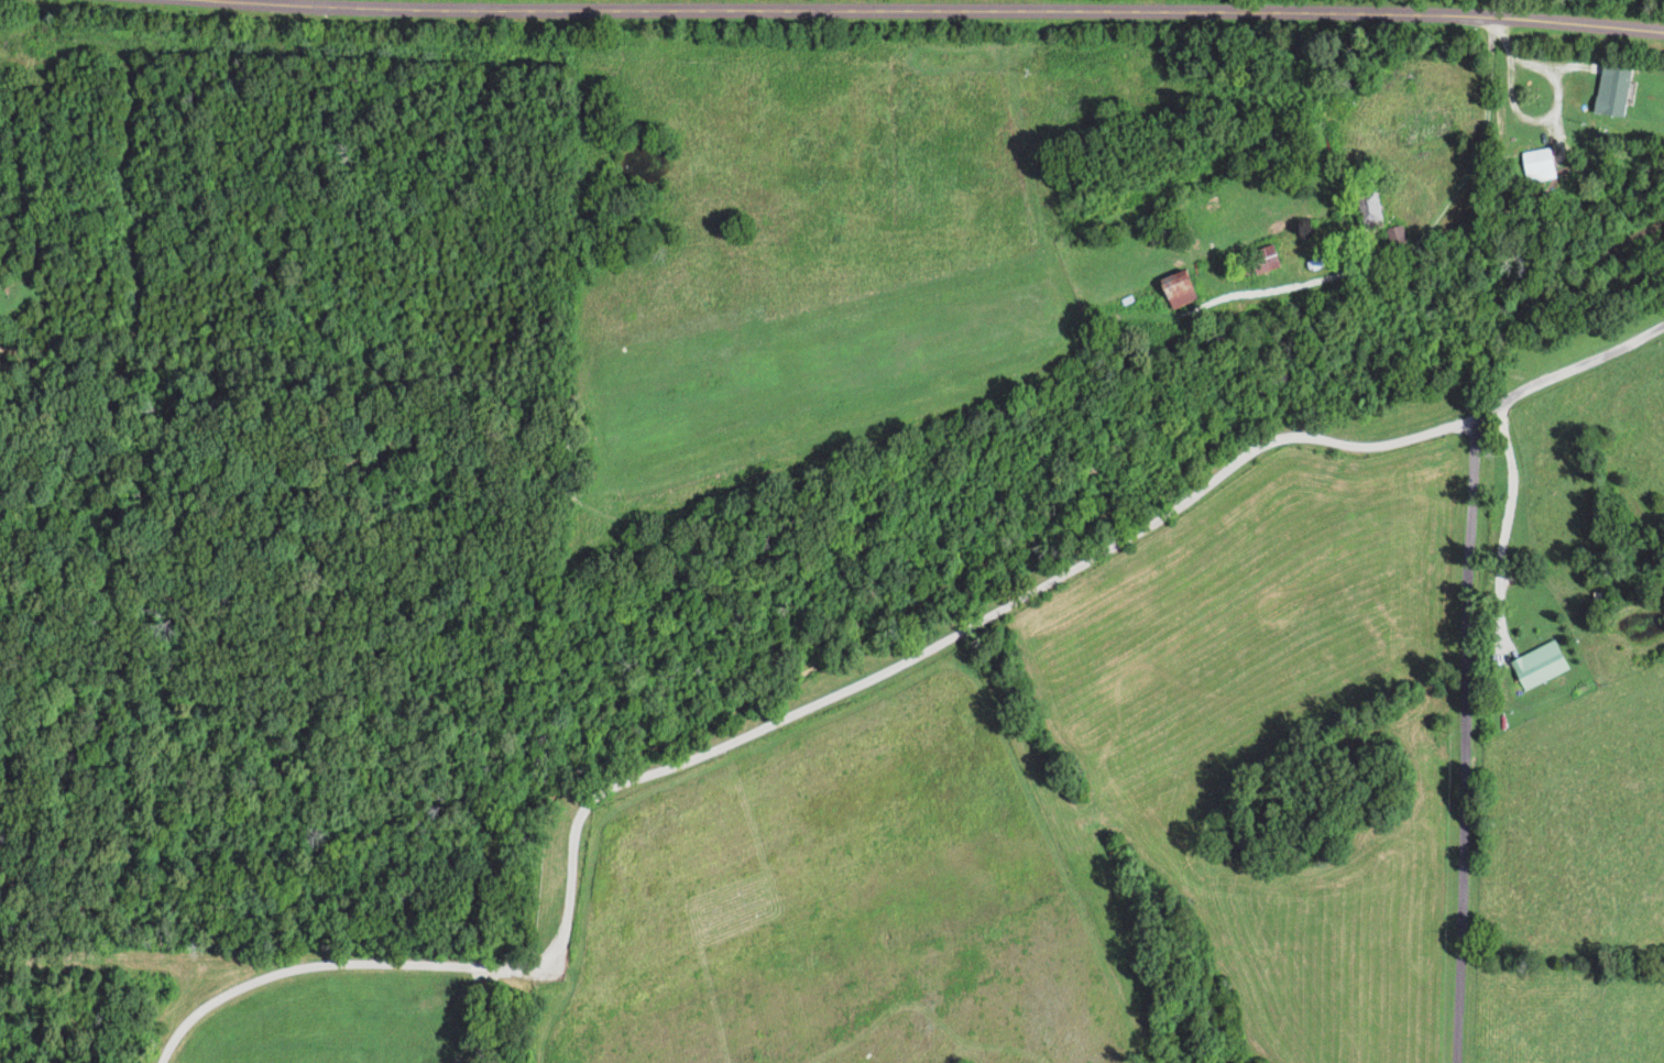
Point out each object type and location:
road: (955, 10)
building: (1607, 92)
building: (1535, 168)
building: (1368, 211)
building: (1273, 261)
building: (1190, 292)
road: (1579, 363)
road: (1504, 530)
building: (1536, 667)
road: (775, 721)
road: (1465, 739)

